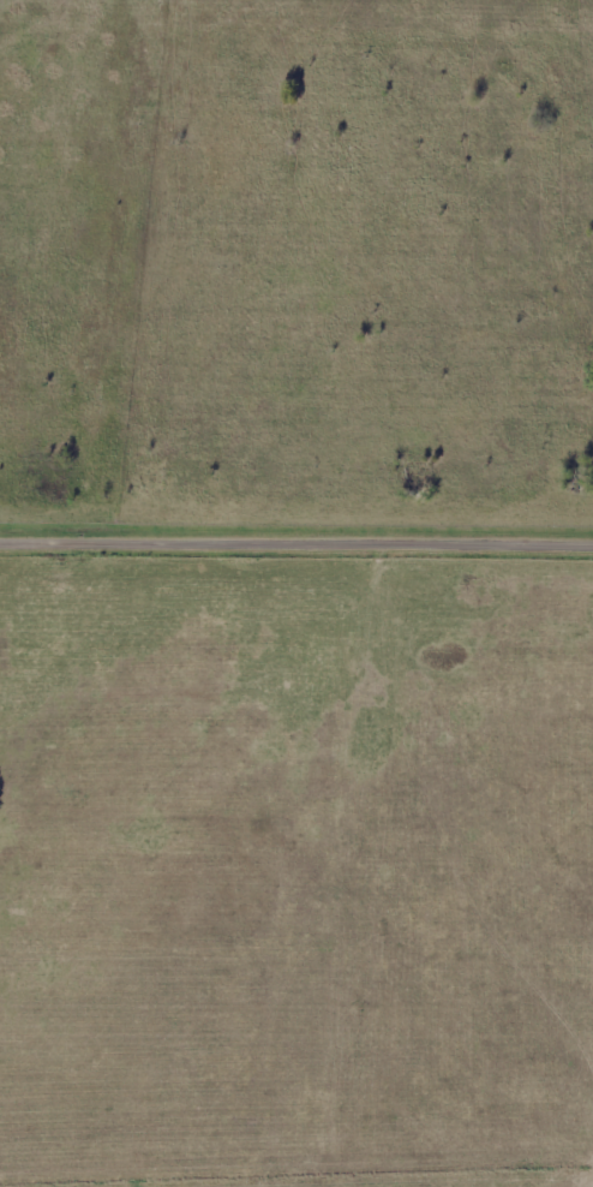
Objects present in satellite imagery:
road: (296, 549)

